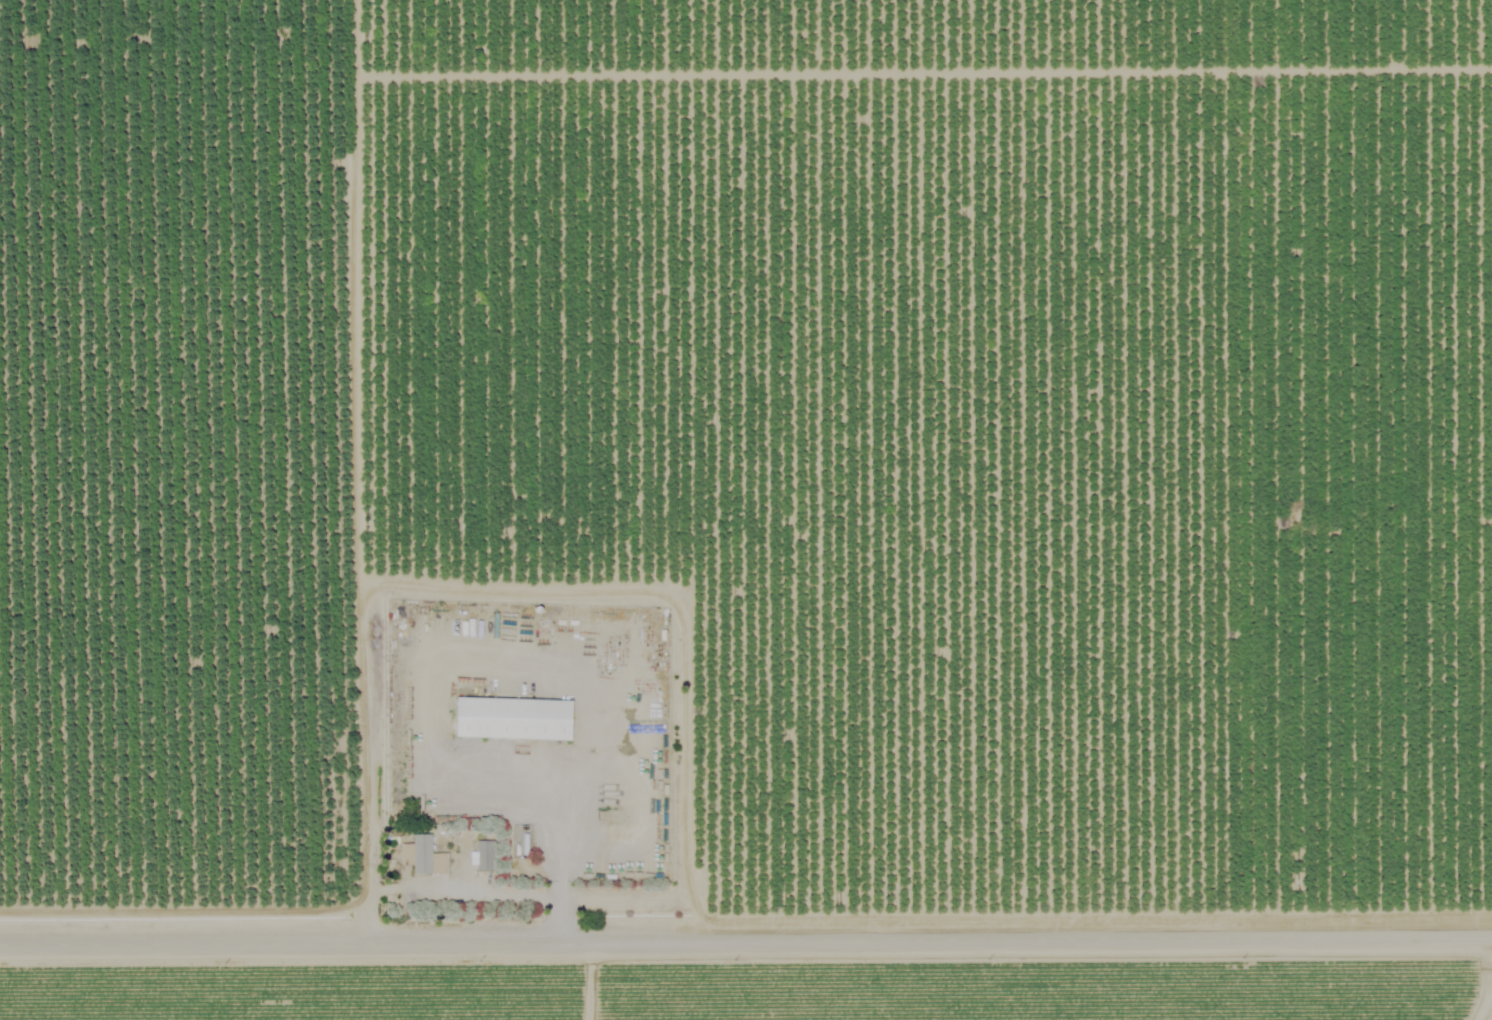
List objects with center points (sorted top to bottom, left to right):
road: (352, 292)
road: (678, 609)
building: (504, 716)
road: (362, 762)
building: (477, 853)
building: (418, 854)
road: (556, 856)
road: (746, 932)
crop: (741, 995)

